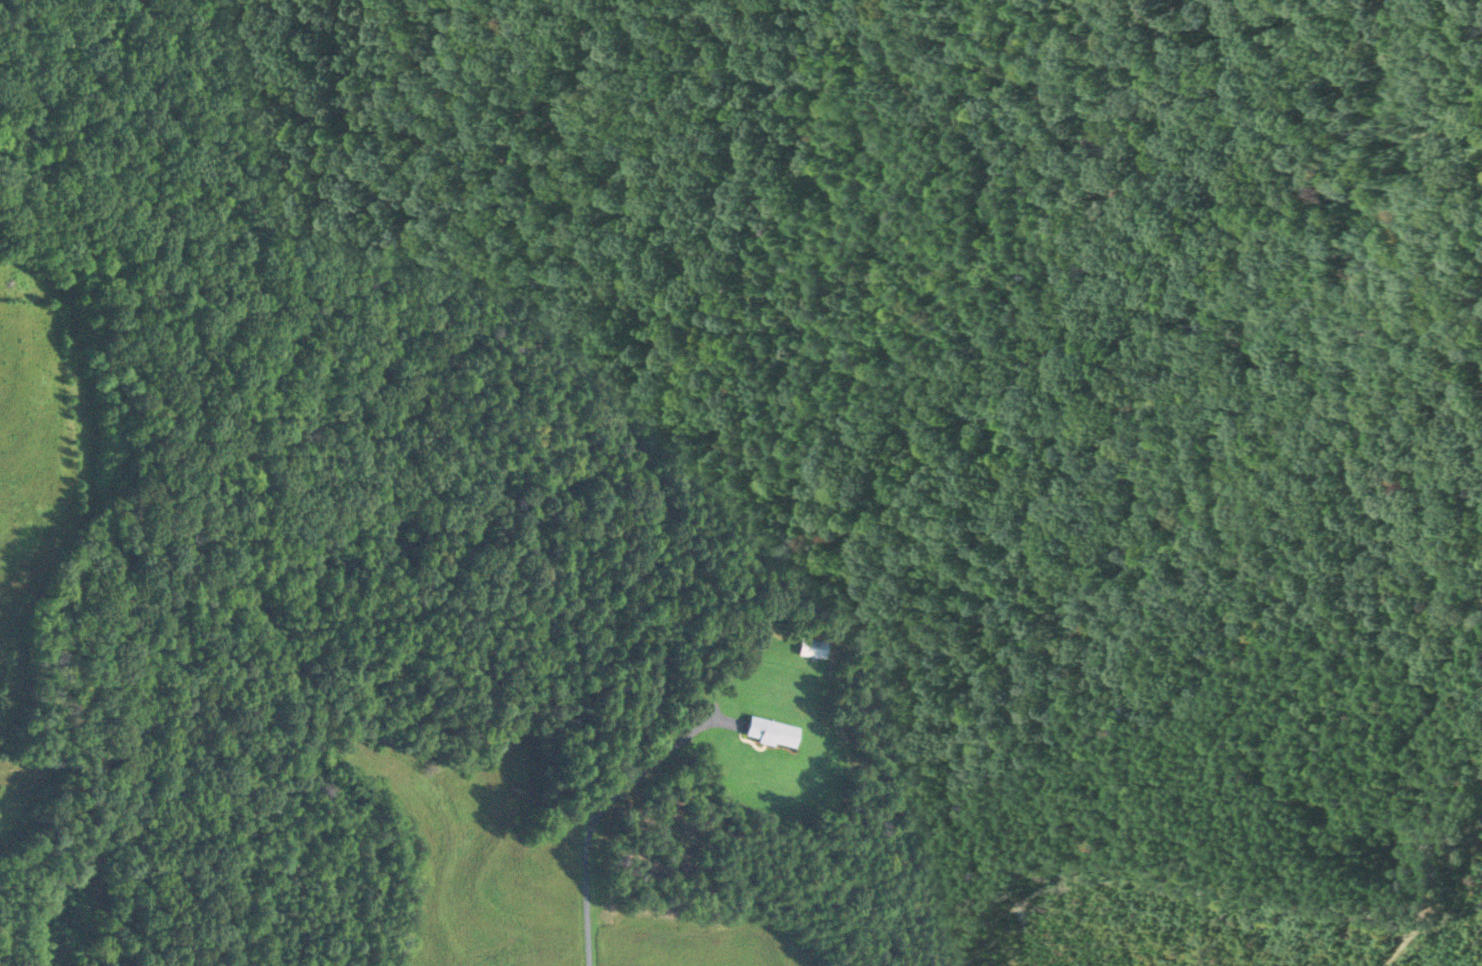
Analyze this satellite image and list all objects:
building: (814, 647)
building: (772, 732)
road: (596, 813)

